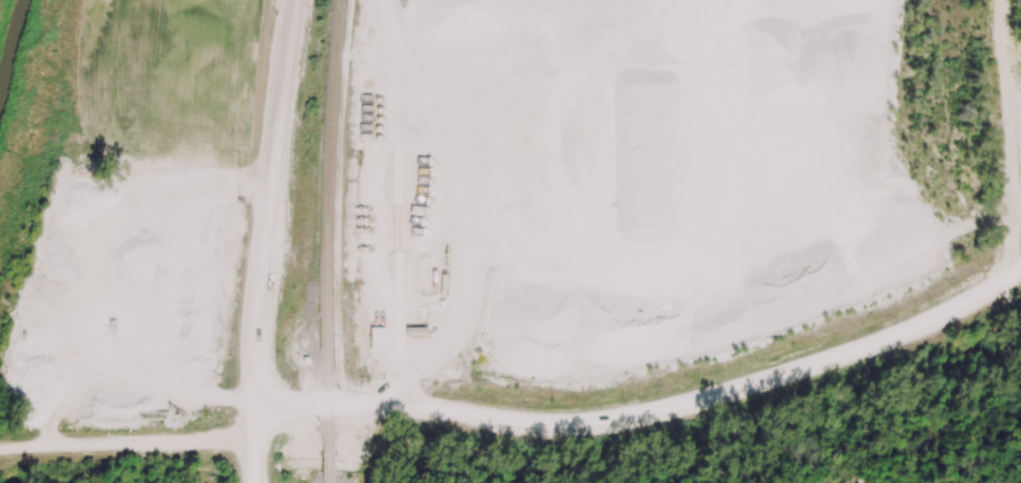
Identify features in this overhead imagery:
river: (14, 50)
road: (1005, 141)
railway: (326, 217)
road: (264, 240)
building: (419, 334)
building: (379, 340)
road: (648, 411)
road: (125, 445)
railway: (328, 459)

